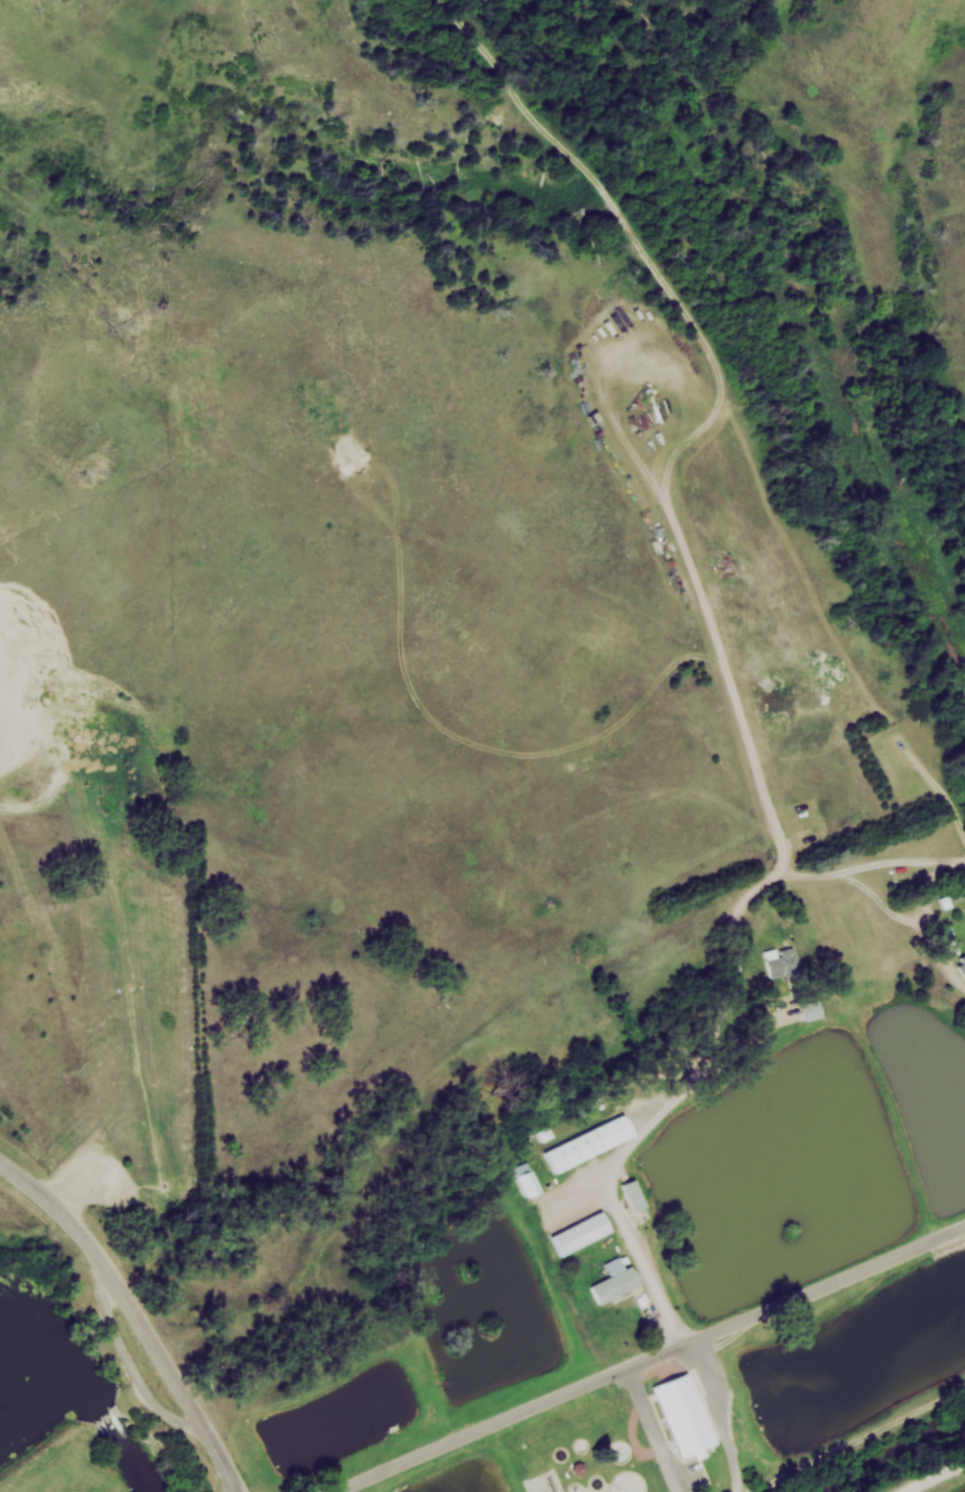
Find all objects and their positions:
road: (873, 864)
road: (766, 886)
building: (959, 894)
road: (910, 919)
building: (783, 960)
building: (961, 960)
building: (812, 1009)
building: (590, 1142)
building: (529, 1179)
building: (636, 1194)
building: (580, 1232)
building: (614, 1281)
road: (133, 1319)
road: (658, 1355)
building: (682, 1414)
river: (107, 1419)
road: (863, 1439)
road: (937, 1477)

